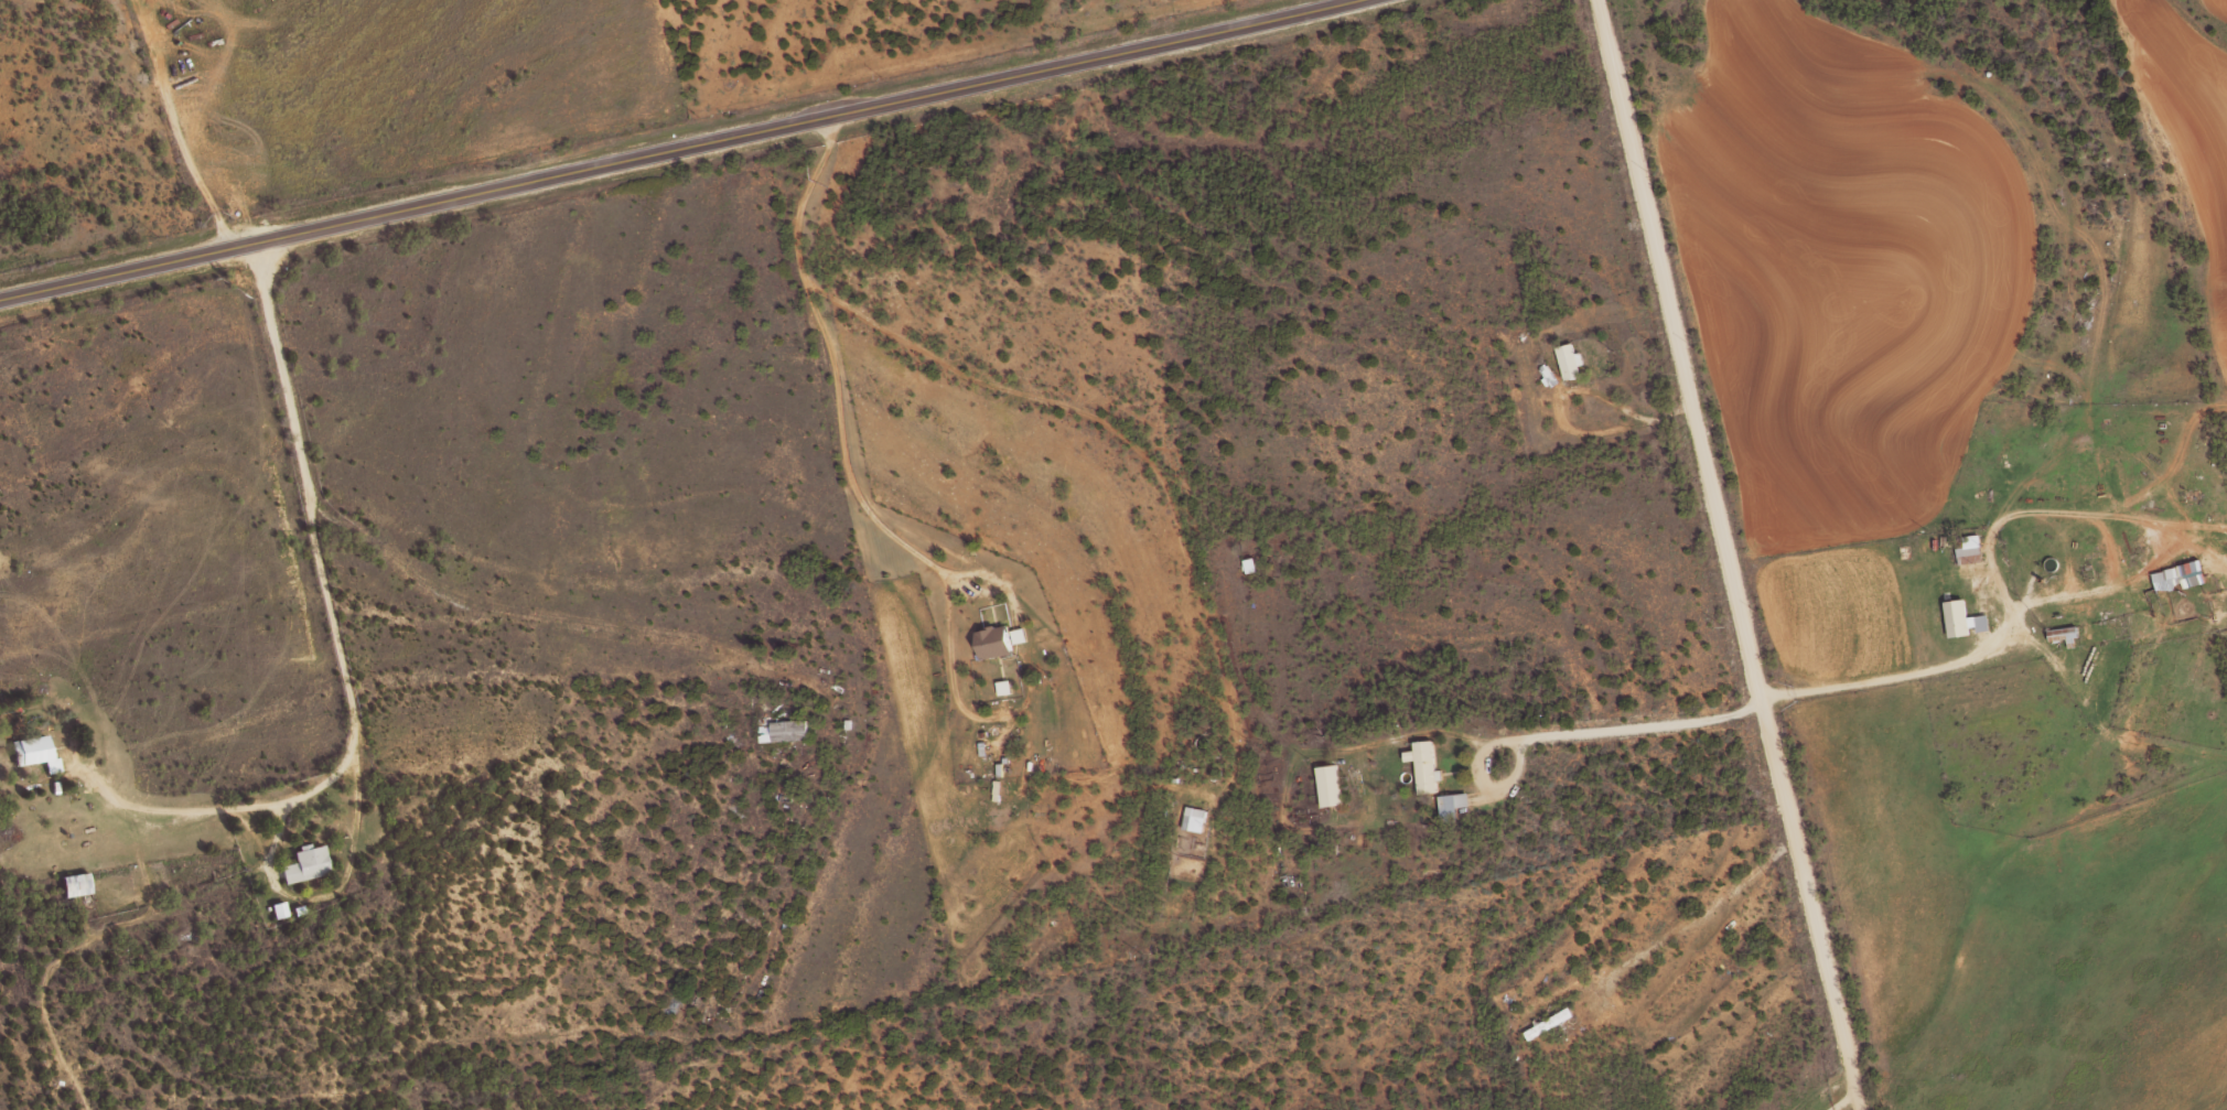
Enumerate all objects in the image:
road: (174, 127)
road: (674, 150)
road: (831, 360)
building: (1569, 360)
building: (1548, 375)
road: (1138, 448)
road: (1723, 549)
building: (1969, 549)
building: (1248, 565)
building: (2178, 575)
road: (2008, 617)
building: (1961, 619)
building: (997, 639)
road: (337, 645)
building: (1002, 687)
building: (782, 731)
road: (1570, 737)
building: (29, 750)
building: (1423, 765)
building: (1327, 785)
building: (1451, 805)
building: (1193, 818)
building: (304, 863)
building: (73, 884)
building: (278, 909)
road: (1838, 1106)

